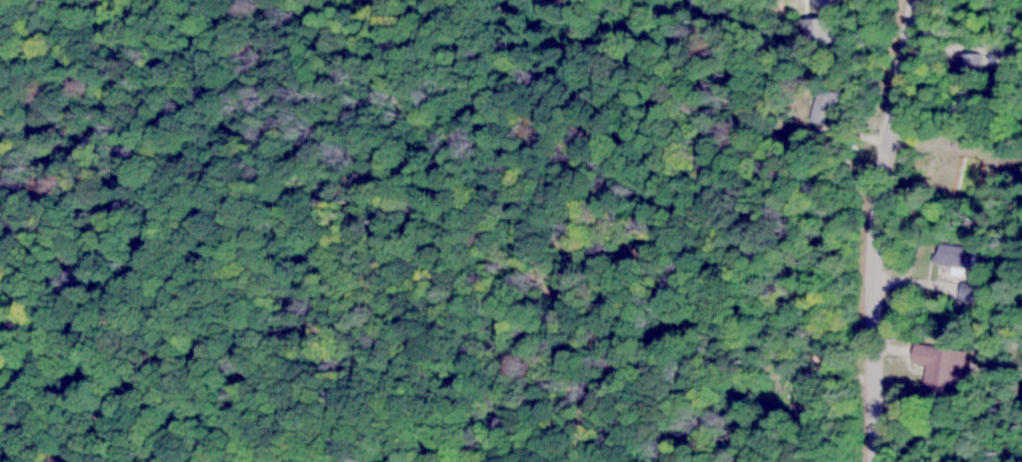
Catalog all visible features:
building: (964, 63)
building: (819, 105)
road: (868, 229)
building: (952, 255)
building: (967, 291)
building: (939, 366)

